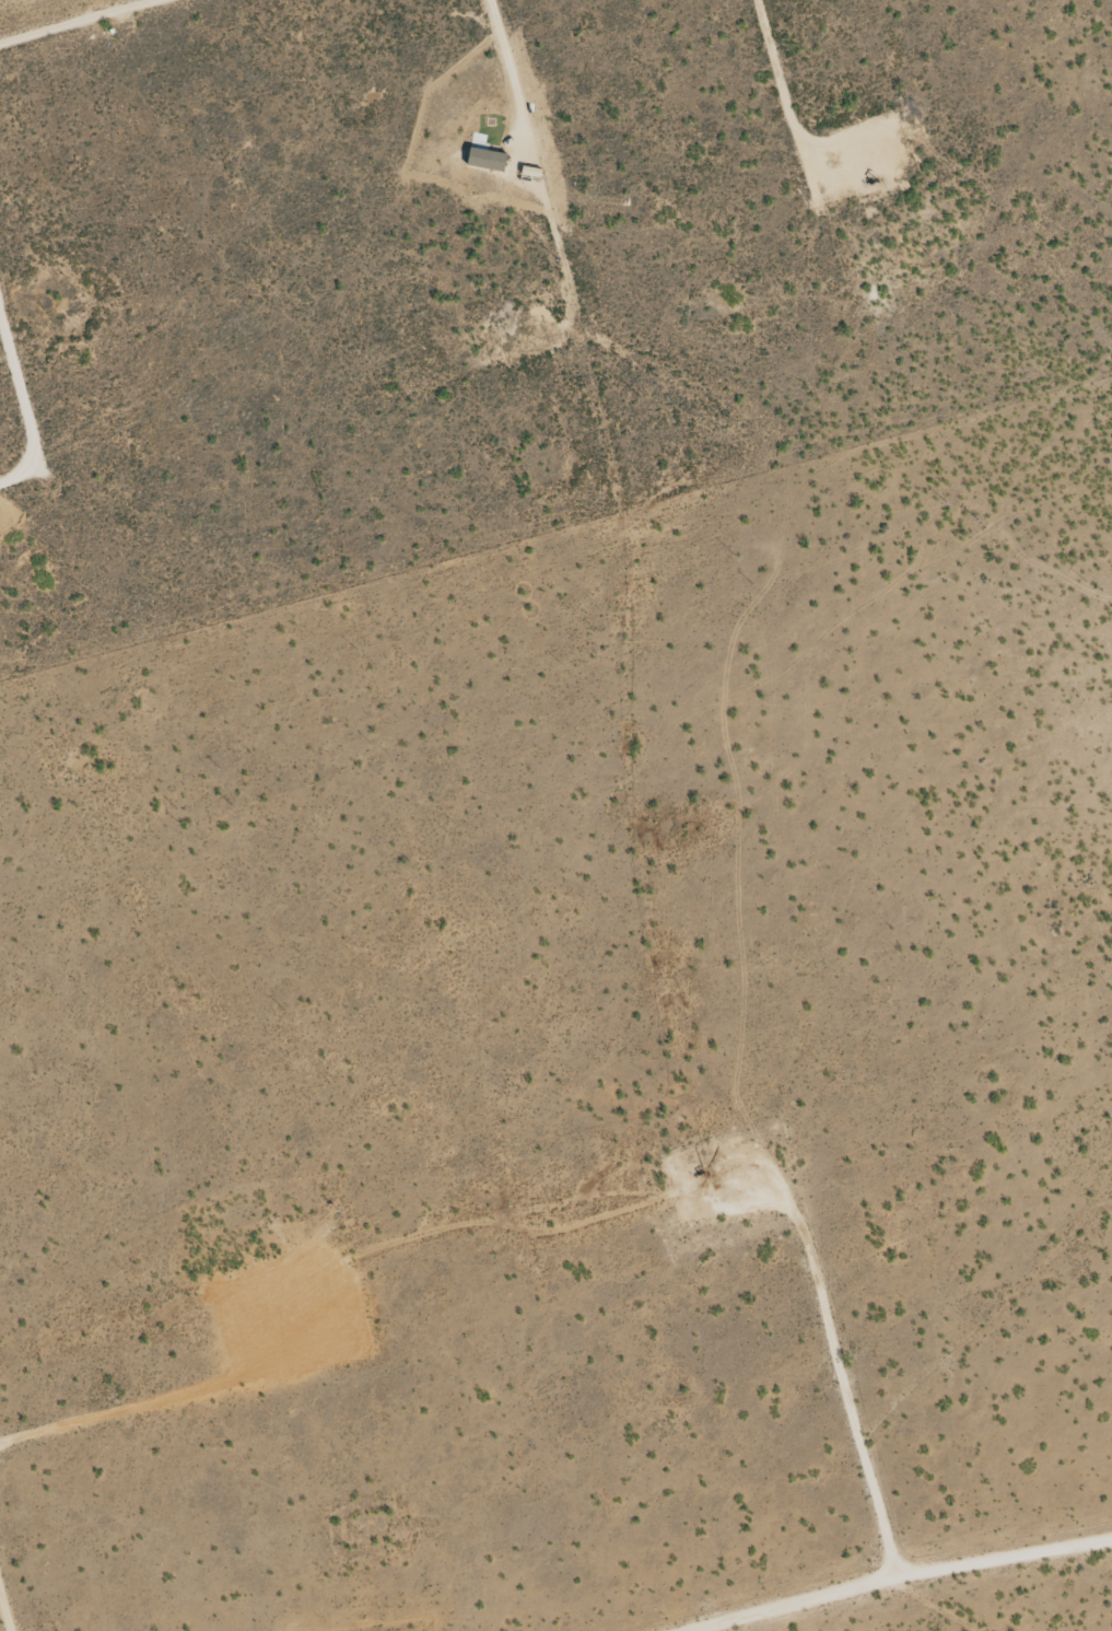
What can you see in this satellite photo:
road: (69, 19)
road: (542, 182)
road: (874, 1501)
road: (3, 1613)

